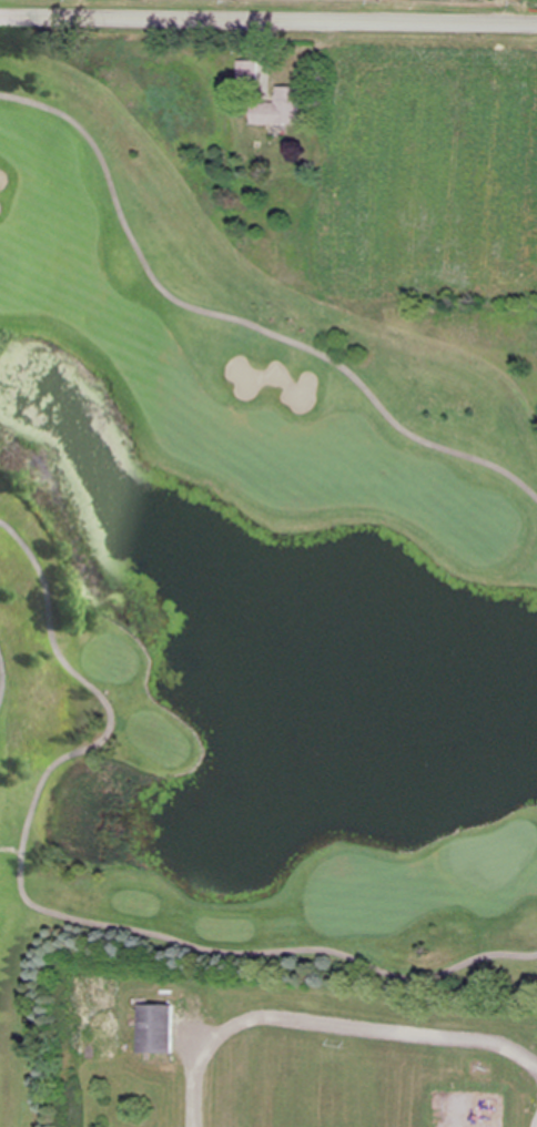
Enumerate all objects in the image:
road: (268, 23)
building: (250, 71)
building: (280, 108)
road: (235, 322)
park: (245, 581)
road: (12, 851)
park: (496, 855)
road: (55, 914)
building: (156, 1028)
road: (194, 1085)

